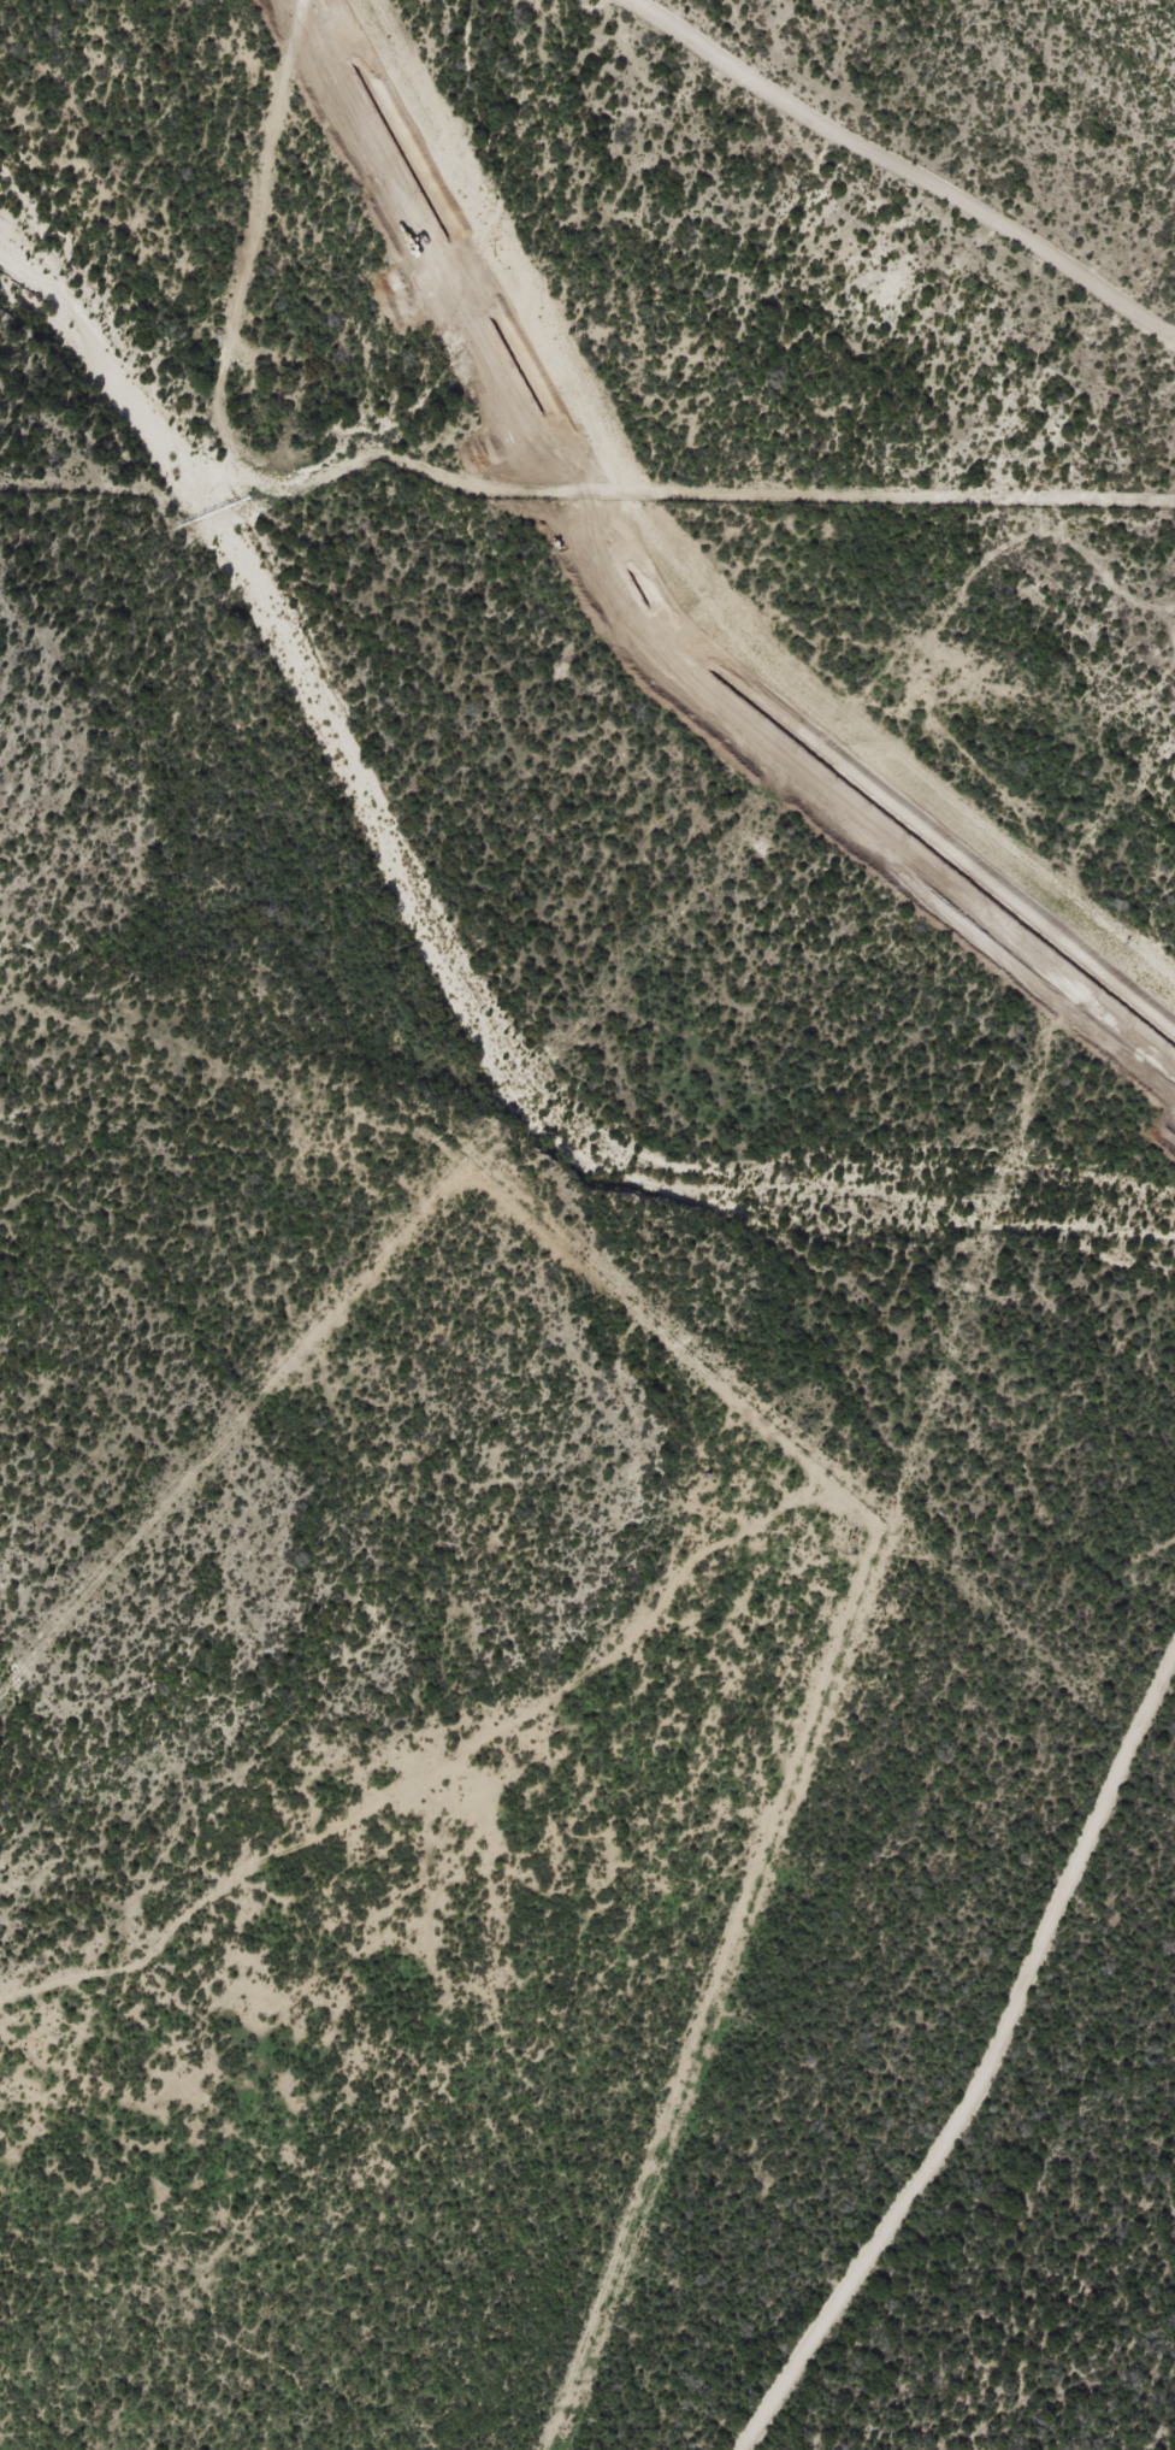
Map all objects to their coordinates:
road: (909, 155)
road: (990, 2074)

